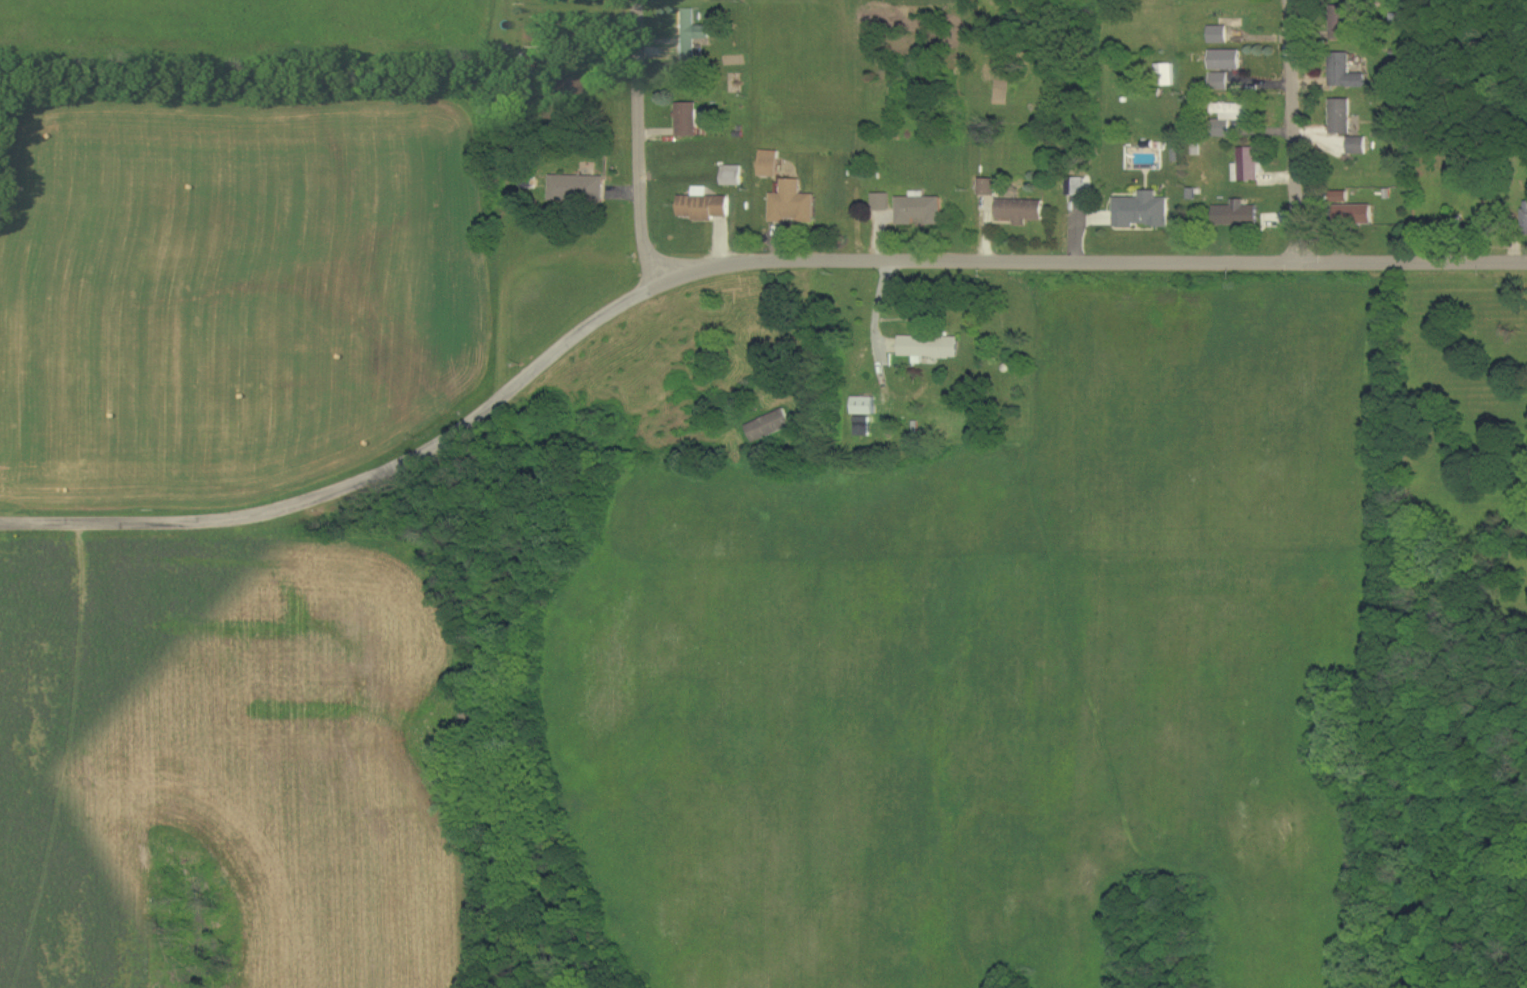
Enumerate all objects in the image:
building: (1341, 25)
building: (1219, 35)
building: (689, 36)
building: (1226, 61)
building: (1345, 72)
building: (1166, 75)
building: (1221, 82)
building: (557, 89)
building: (1341, 117)
building: (1229, 118)
building: (688, 120)
road: (1295, 132)
road: (637, 143)
building: (1357, 146)
building: (770, 164)
building: (1247, 166)
building: (733, 176)
building: (1077, 187)
building: (577, 188)
building: (988, 188)
building: (1341, 197)
building: (881, 203)
building: (793, 204)
building: (704, 206)
building: (920, 210)
building: (1022, 211)
building: (1142, 211)
building: (1237, 215)
building: (1355, 215)
building: (1526, 220)
road: (1091, 263)
building: (930, 347)
building: (864, 407)
building: (770, 427)
building: (863, 427)
road: (356, 479)

